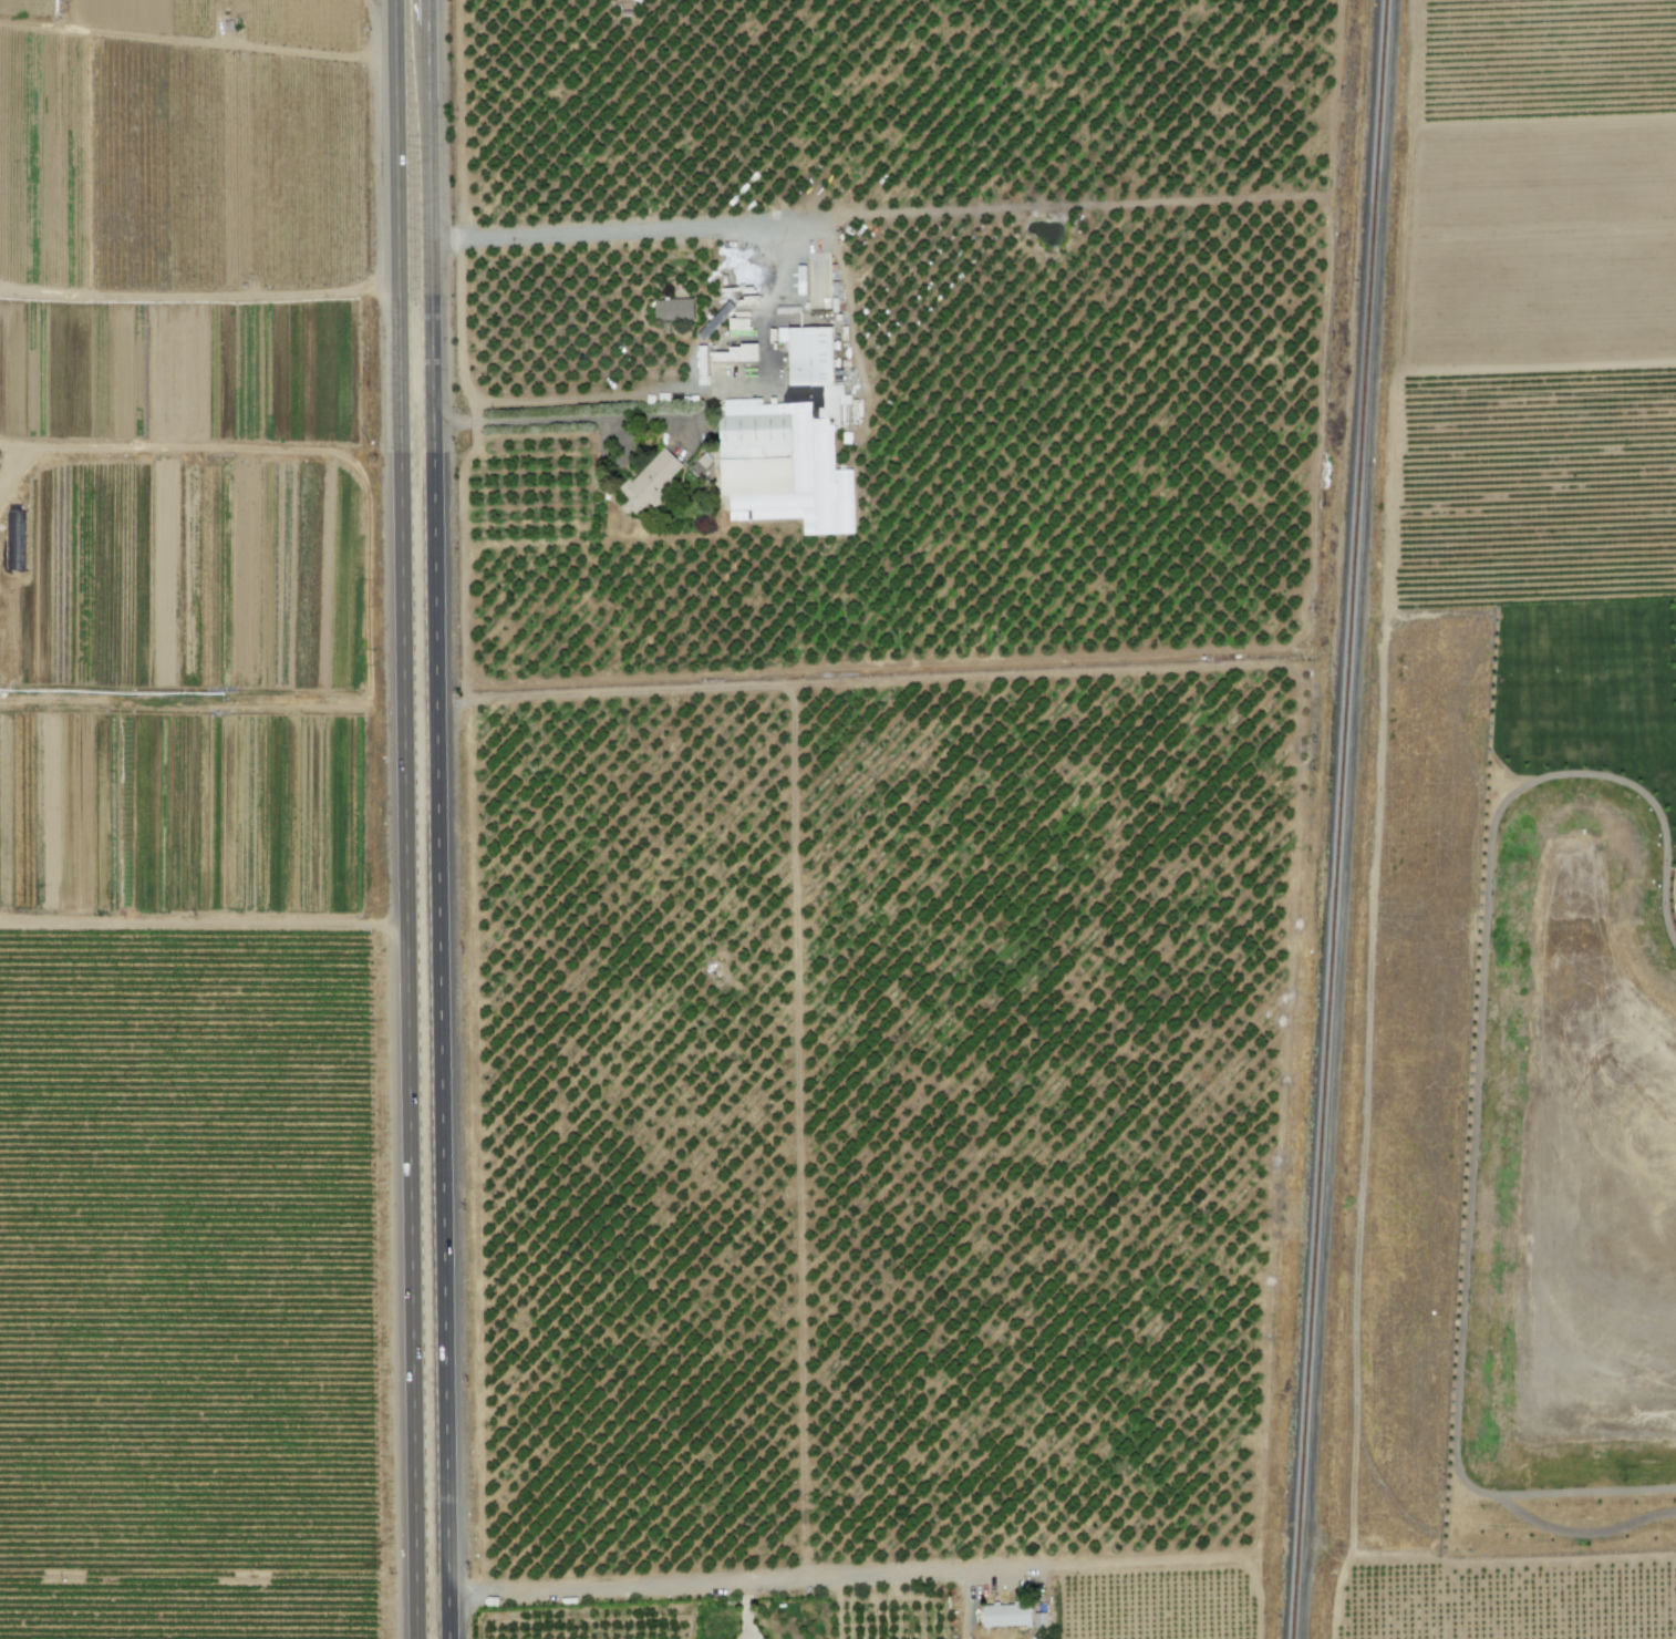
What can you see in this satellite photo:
building: (672, 309)
road: (763, 372)
road: (473, 412)
road: (580, 418)
building: (787, 447)
building: (648, 482)
road: (442, 818)
road: (406, 819)
railway: (1343, 819)
road: (726, 1585)
road: (743, 1612)
building: (1005, 1615)

